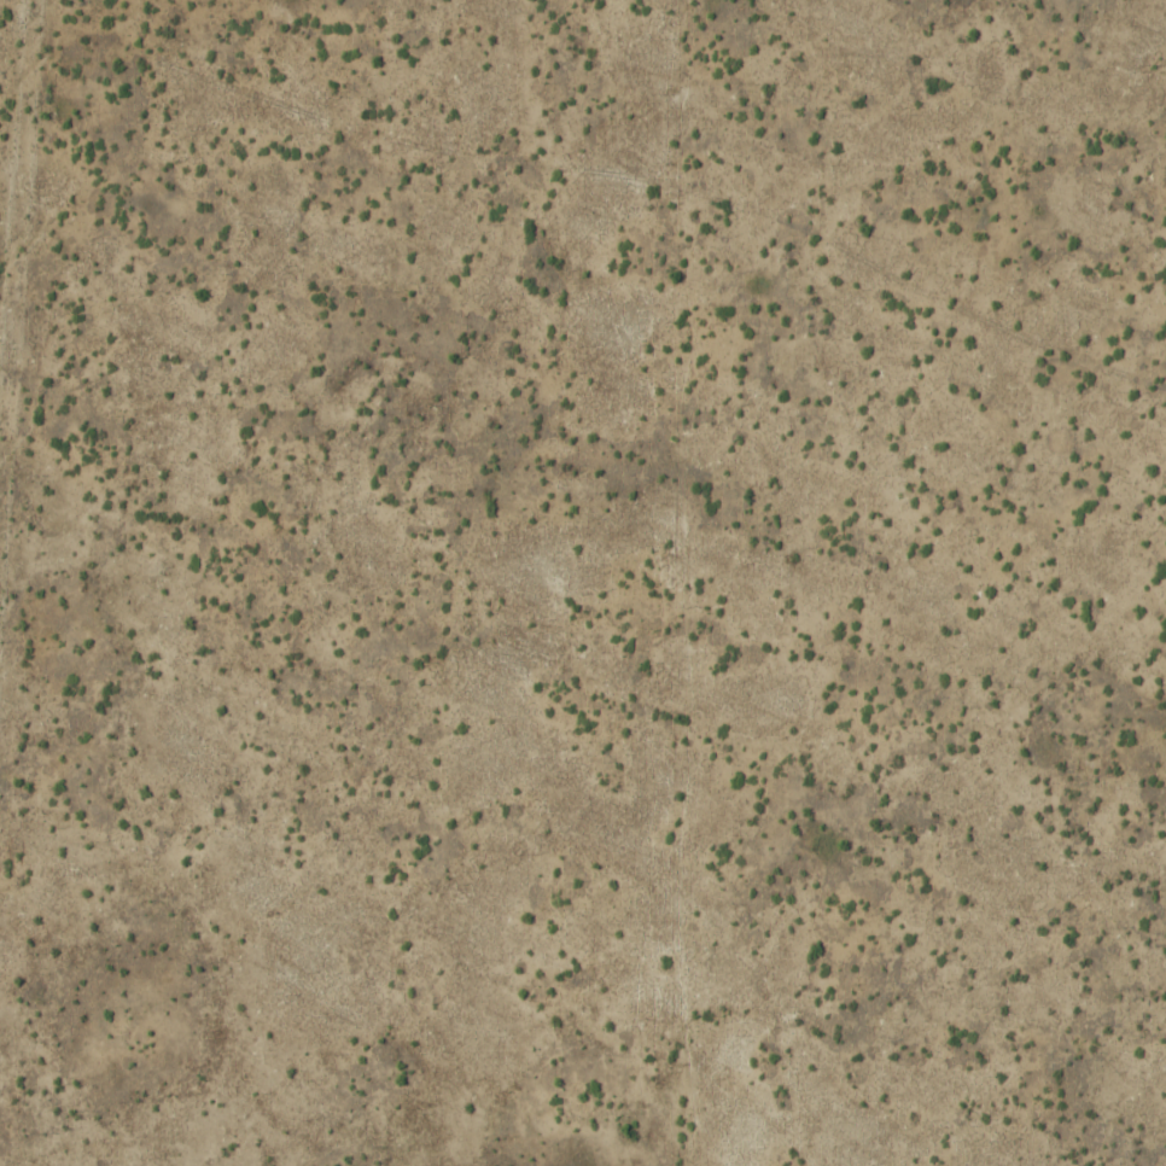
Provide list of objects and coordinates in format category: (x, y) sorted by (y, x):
road: (6, 83)

